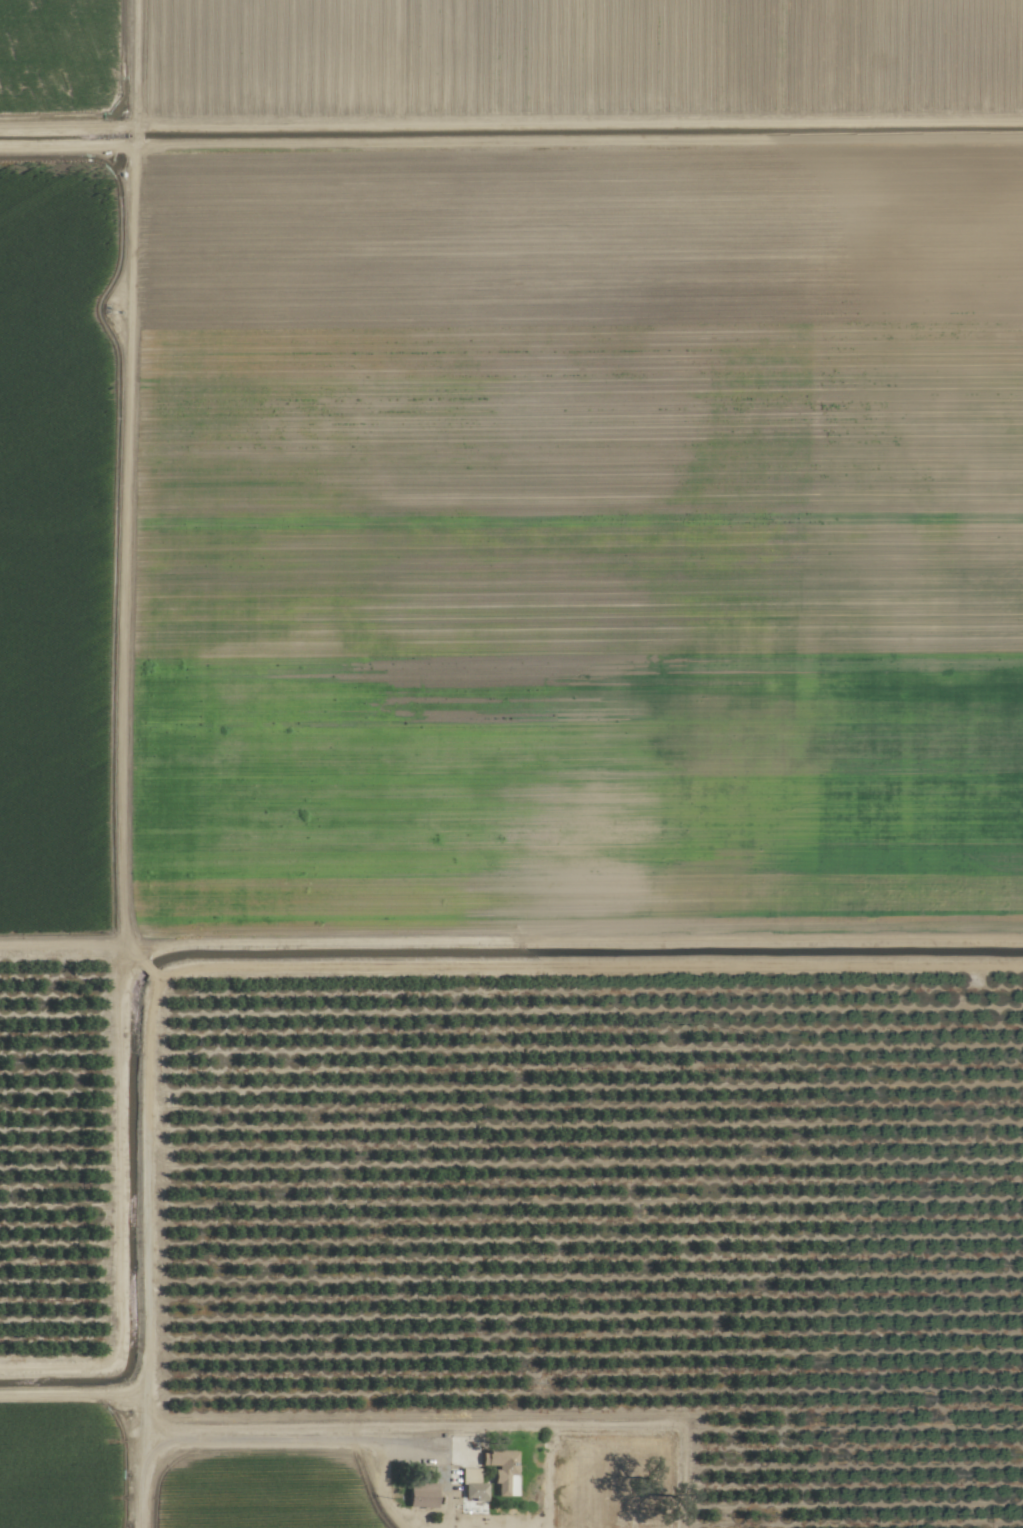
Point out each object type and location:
road: (260, 1432)
building: (501, 1470)
building: (471, 1484)
building: (420, 1494)

